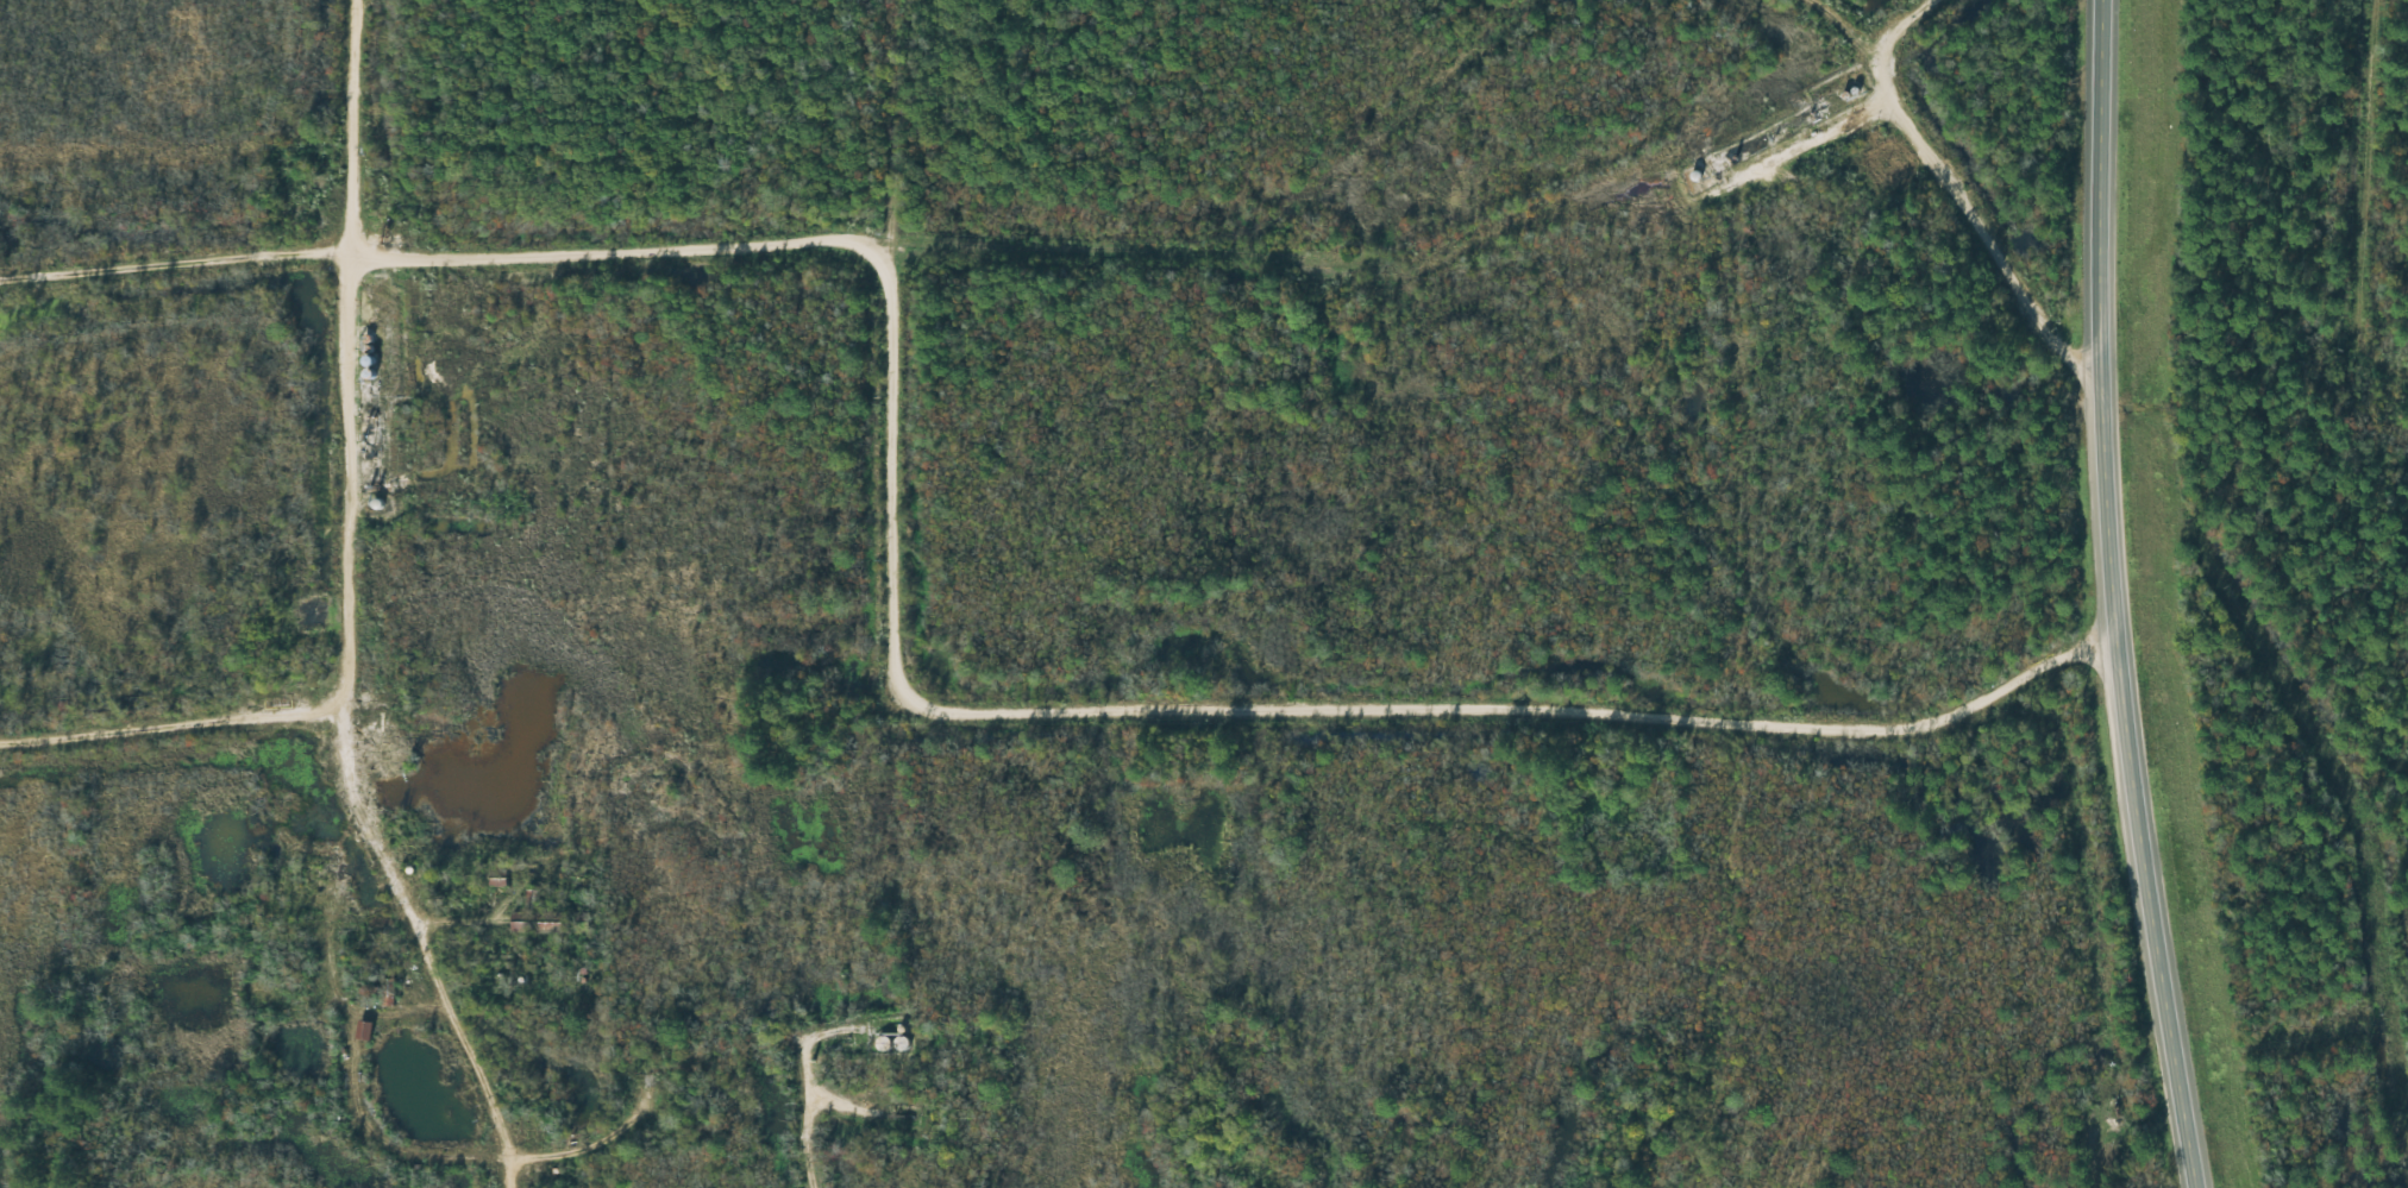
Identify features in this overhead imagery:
road: (1863, 21)
road: (2366, 168)
road: (1945, 193)
road: (641, 233)
road: (338, 353)
road: (2112, 596)
road: (1542, 692)
road: (374, 792)
building: (533, 899)
building: (541, 923)
building: (388, 991)
building: (365, 1031)
building: (884, 1044)
building: (902, 1044)
road: (795, 1086)
road: (1562, 1164)
road: (1223, 1174)

